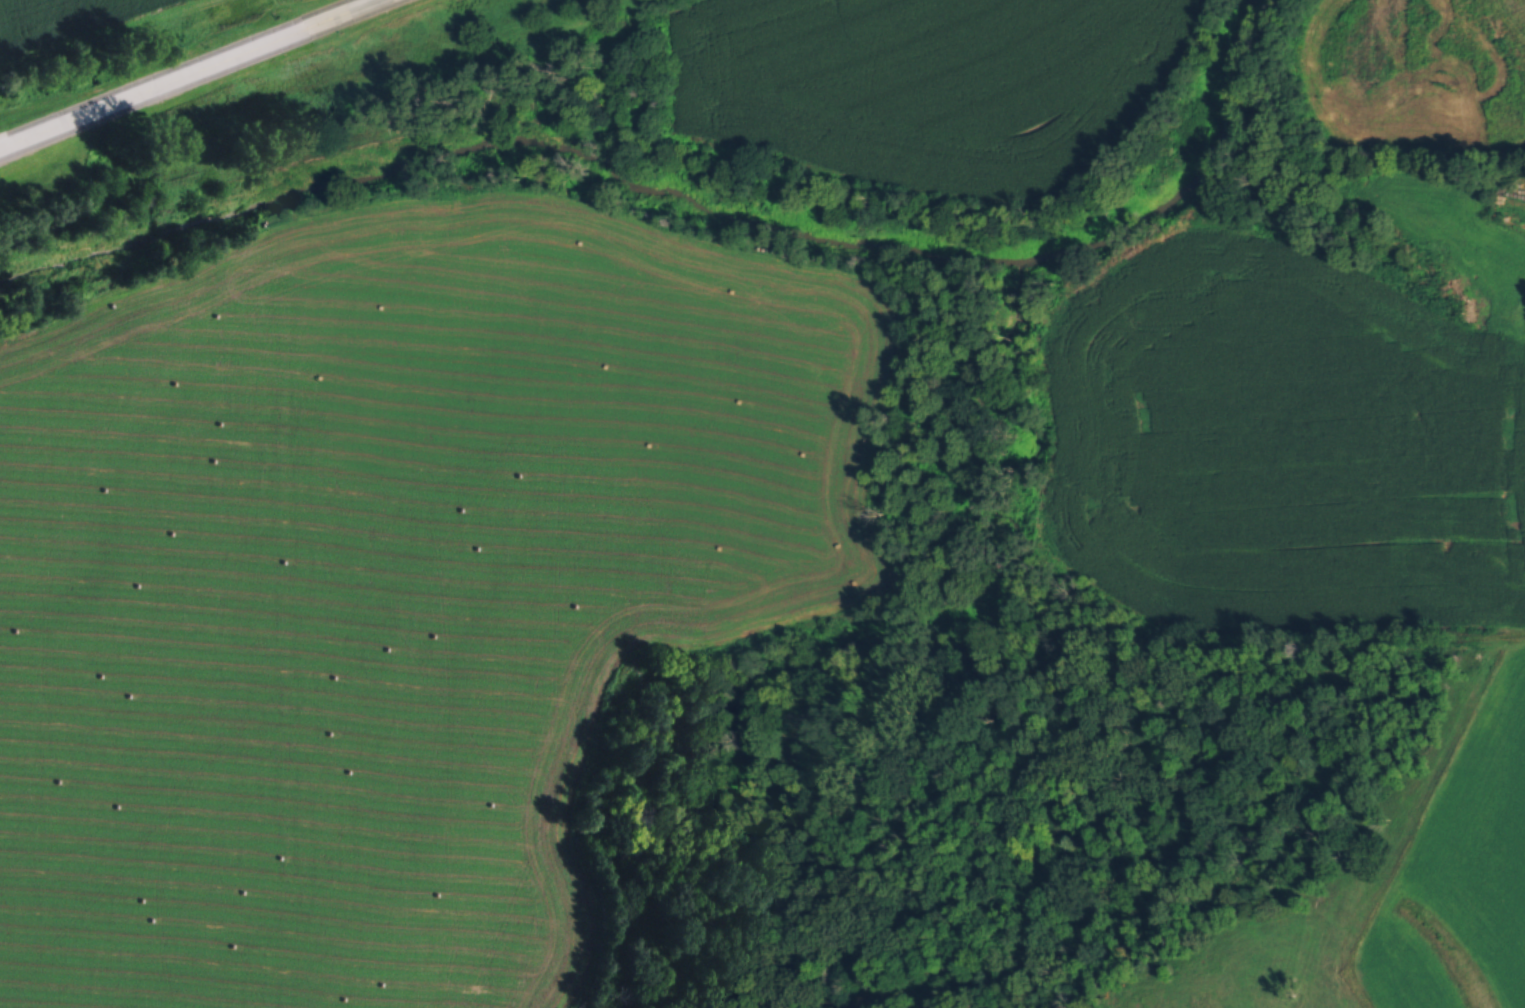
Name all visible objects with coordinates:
road: (191, 73)

